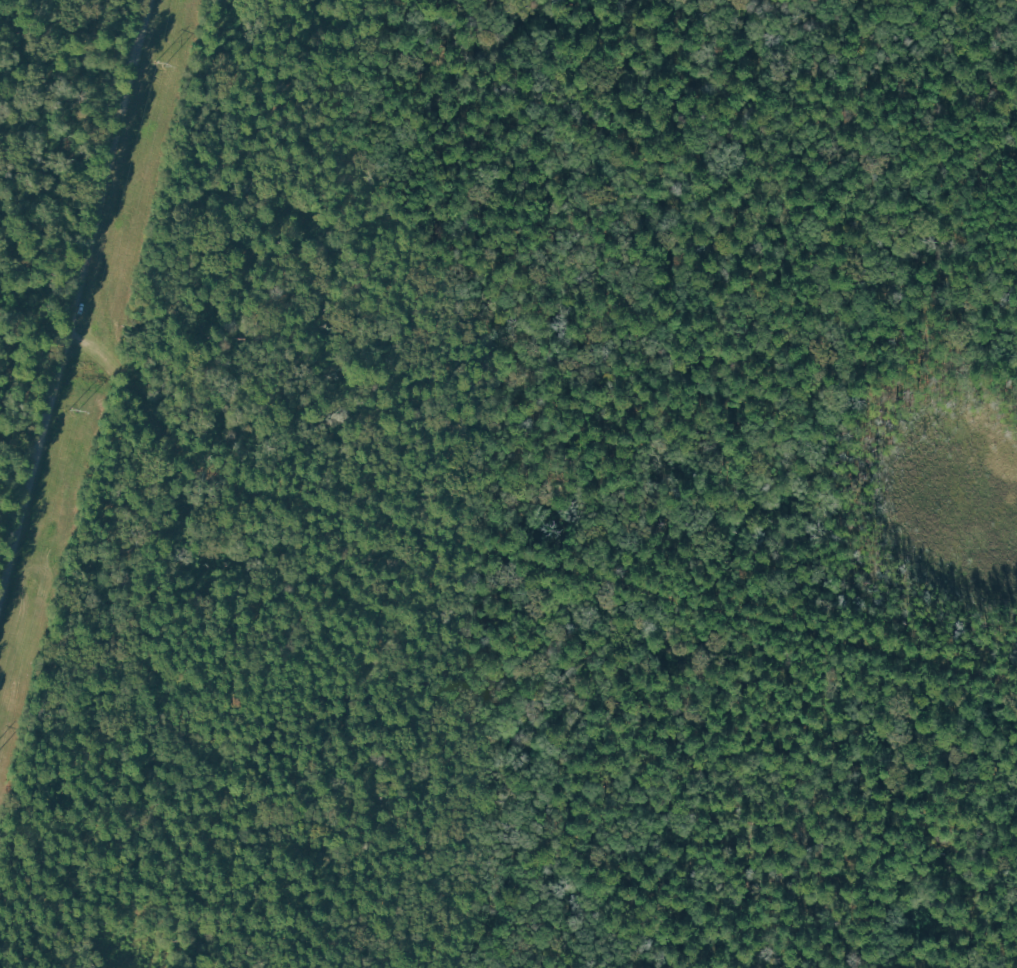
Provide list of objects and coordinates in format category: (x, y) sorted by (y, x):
power tower: (158, 65)
road: (77, 302)
power tower: (71, 413)
road: (514, 575)
road: (30, 954)

